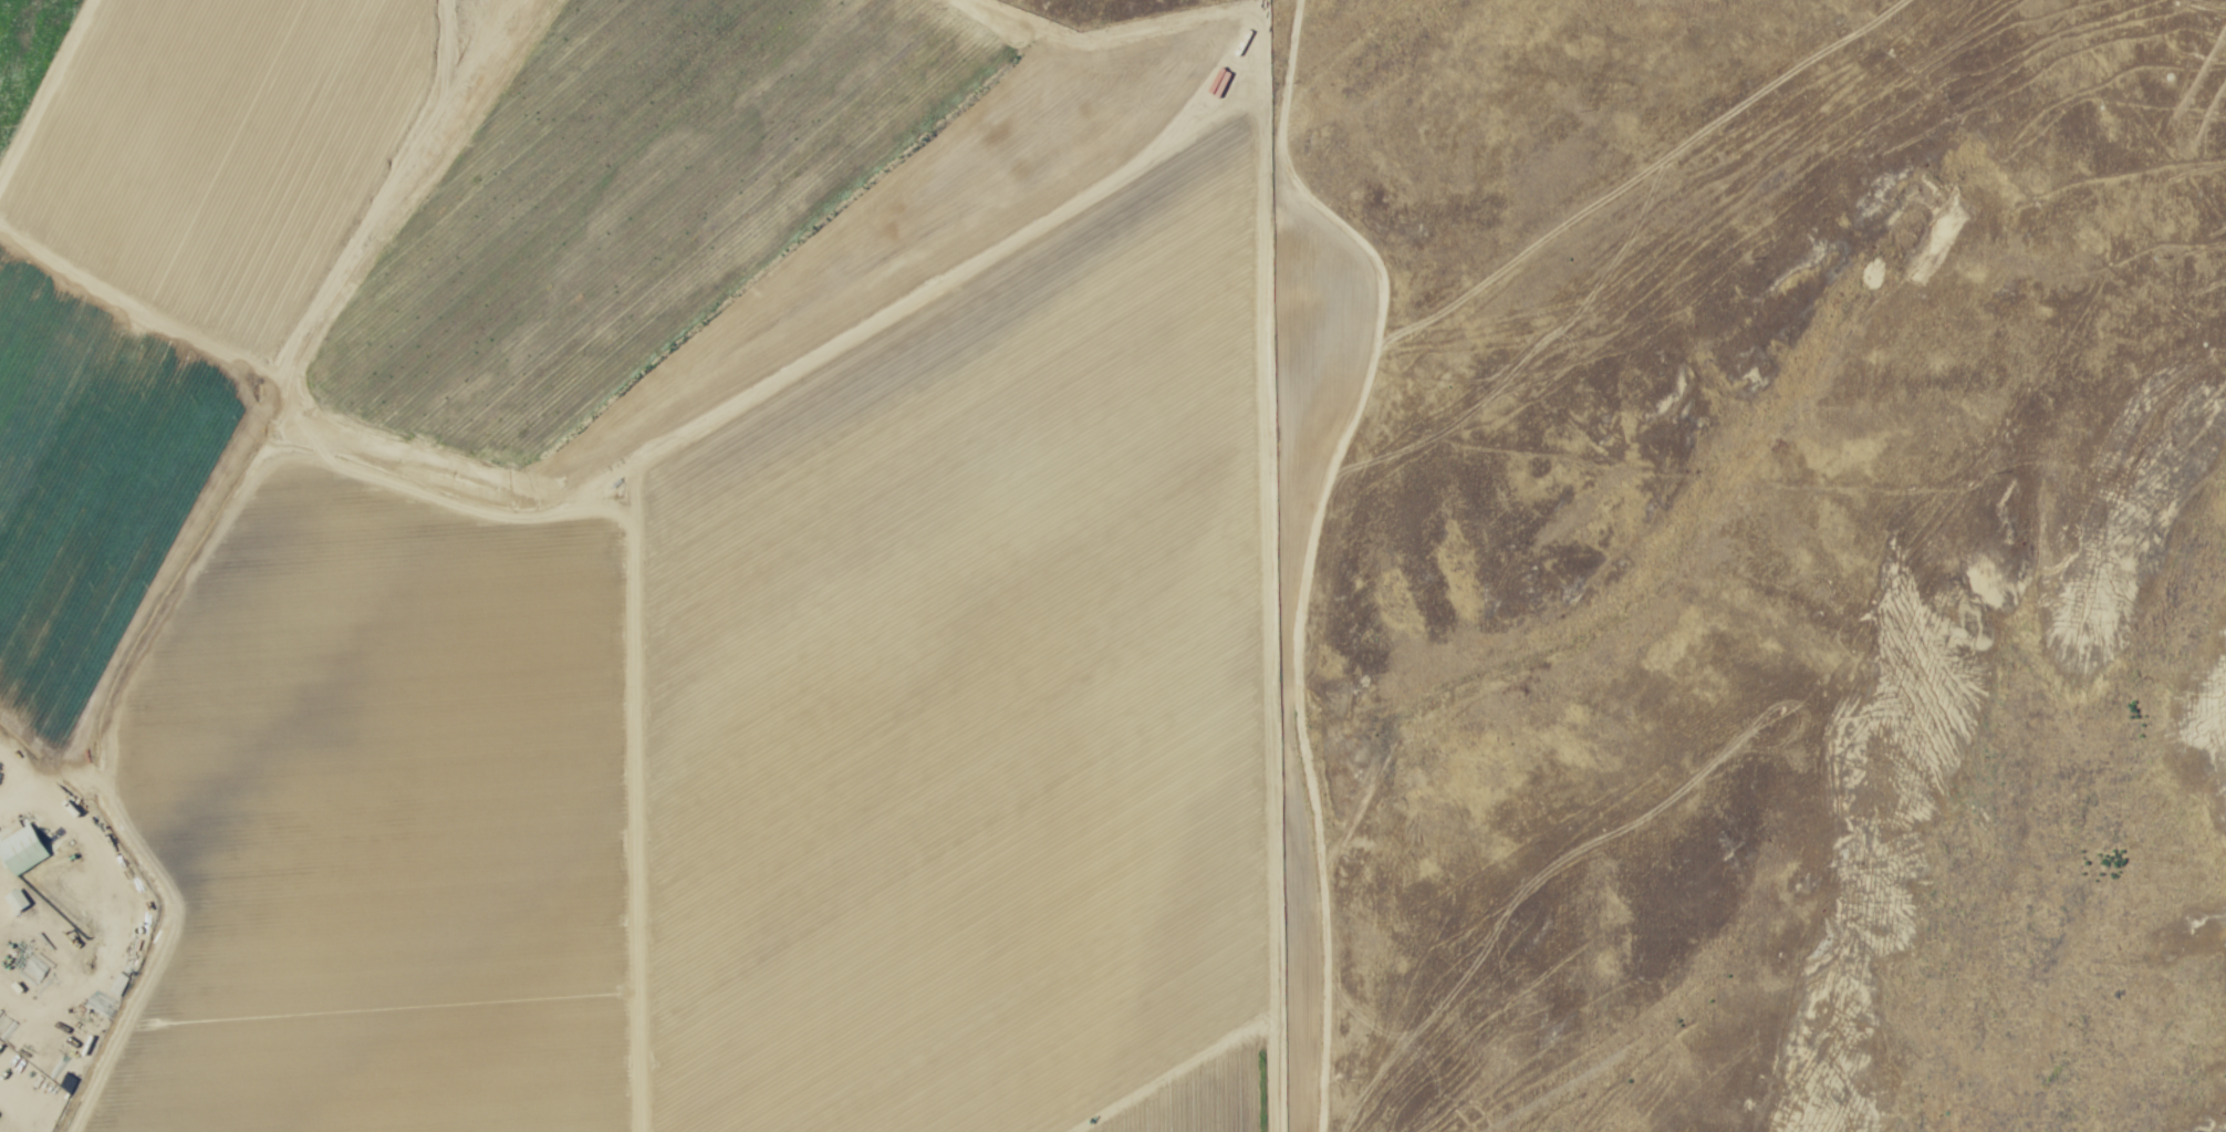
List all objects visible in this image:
crop: (614, 590)
building: (19, 849)

